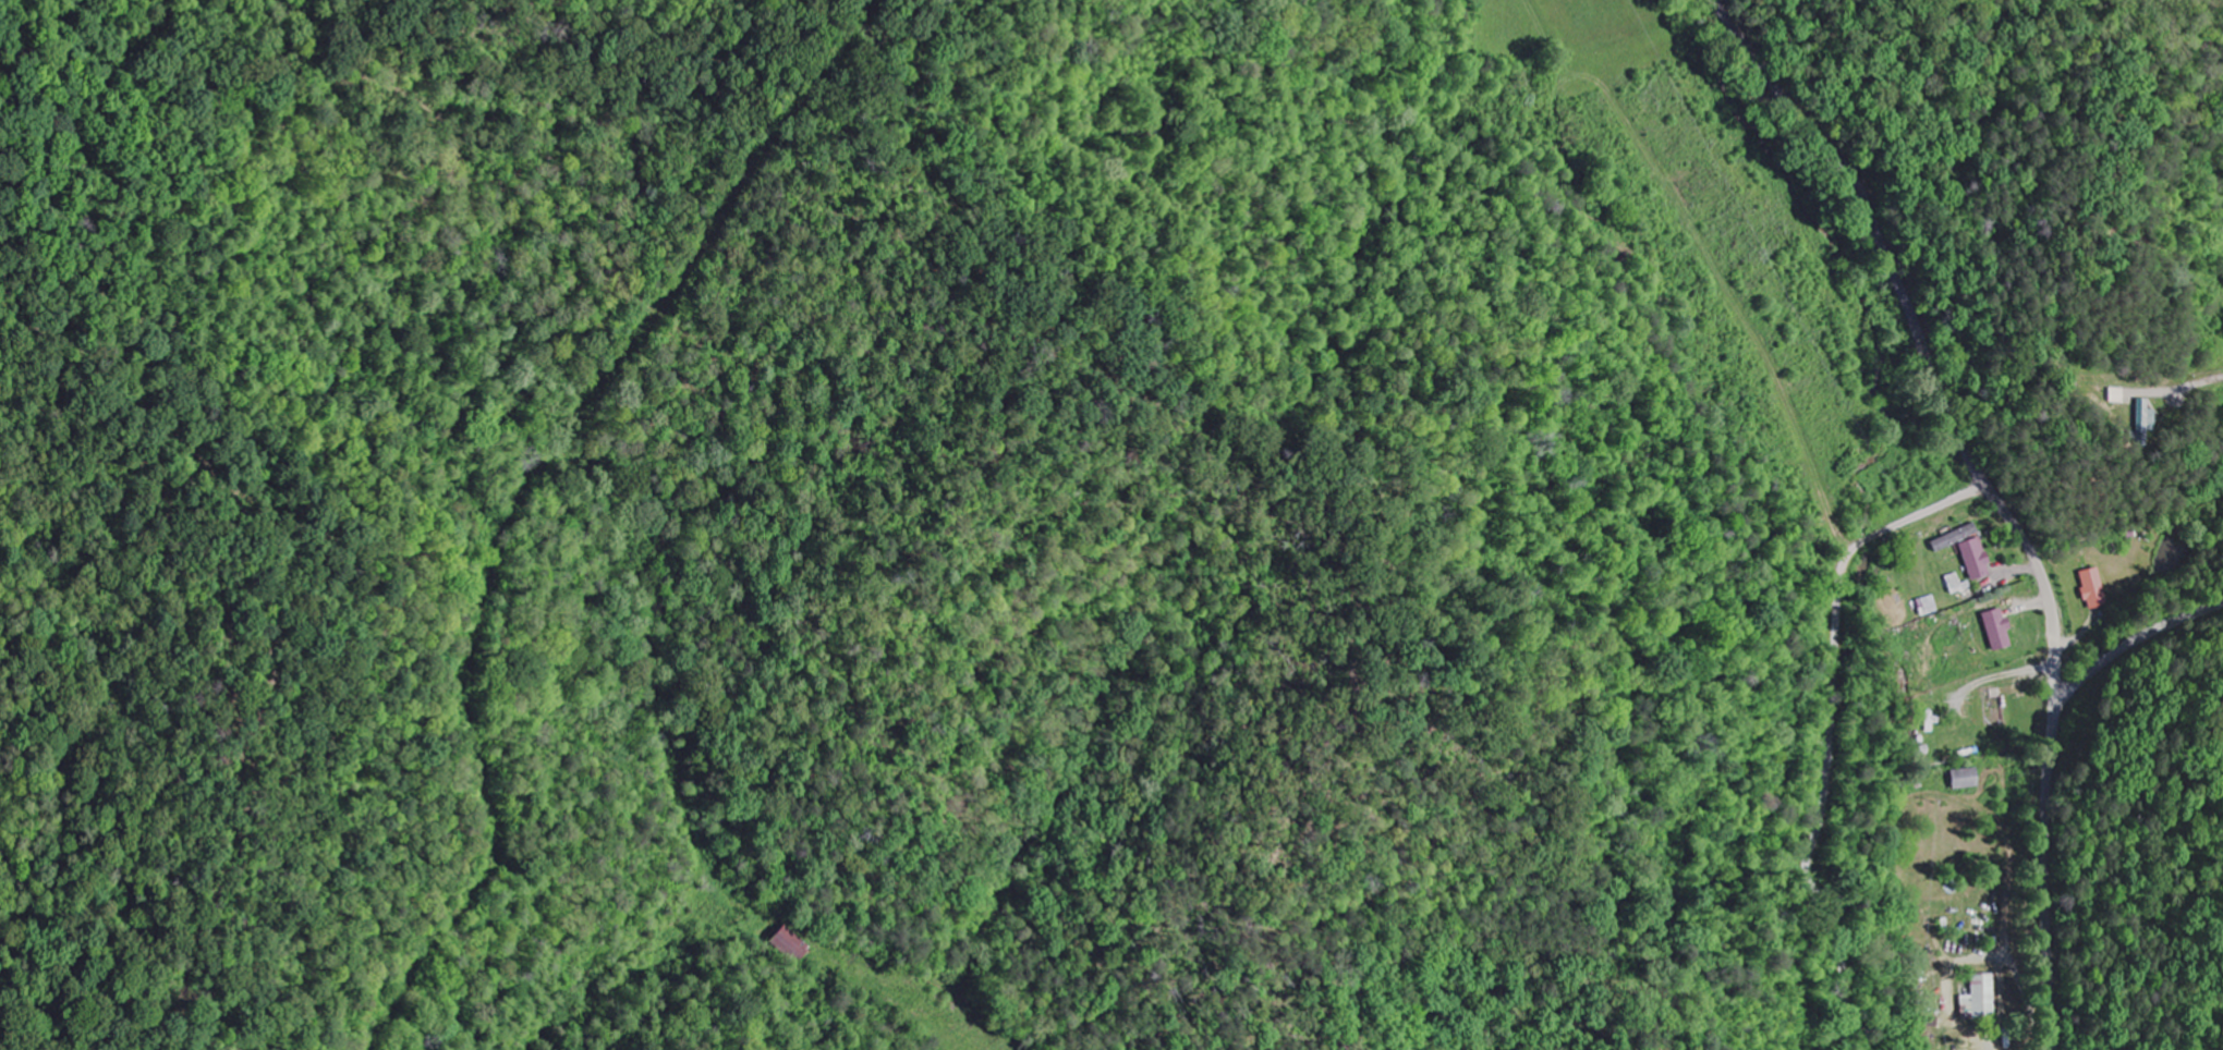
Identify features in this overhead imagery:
building: (2143, 417)
road: (1994, 491)
building: (2094, 587)
building: (2000, 627)
building: (1966, 777)
building: (1983, 996)
road: (892, 1015)

